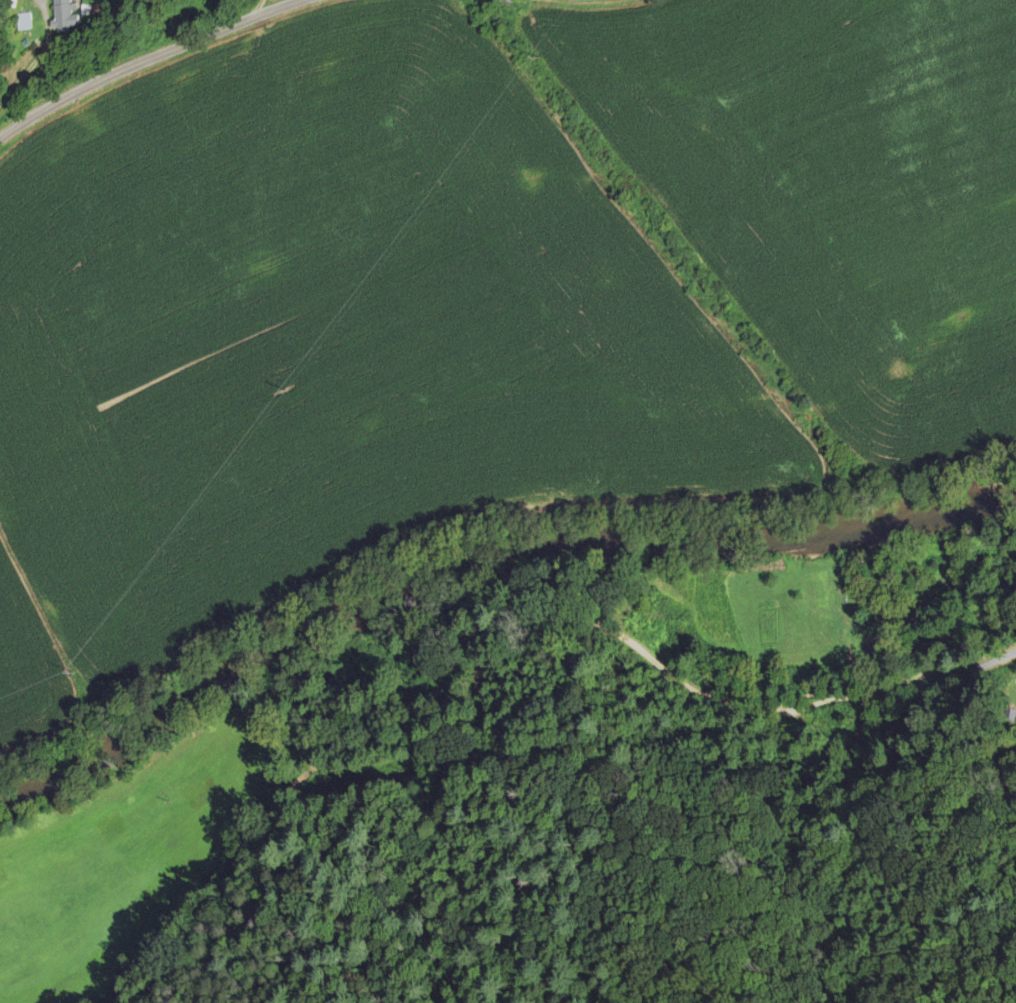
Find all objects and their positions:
road: (256, 9)
building: (63, 16)
road: (145, 60)
river: (481, 541)
road: (966, 645)
road: (503, 659)

